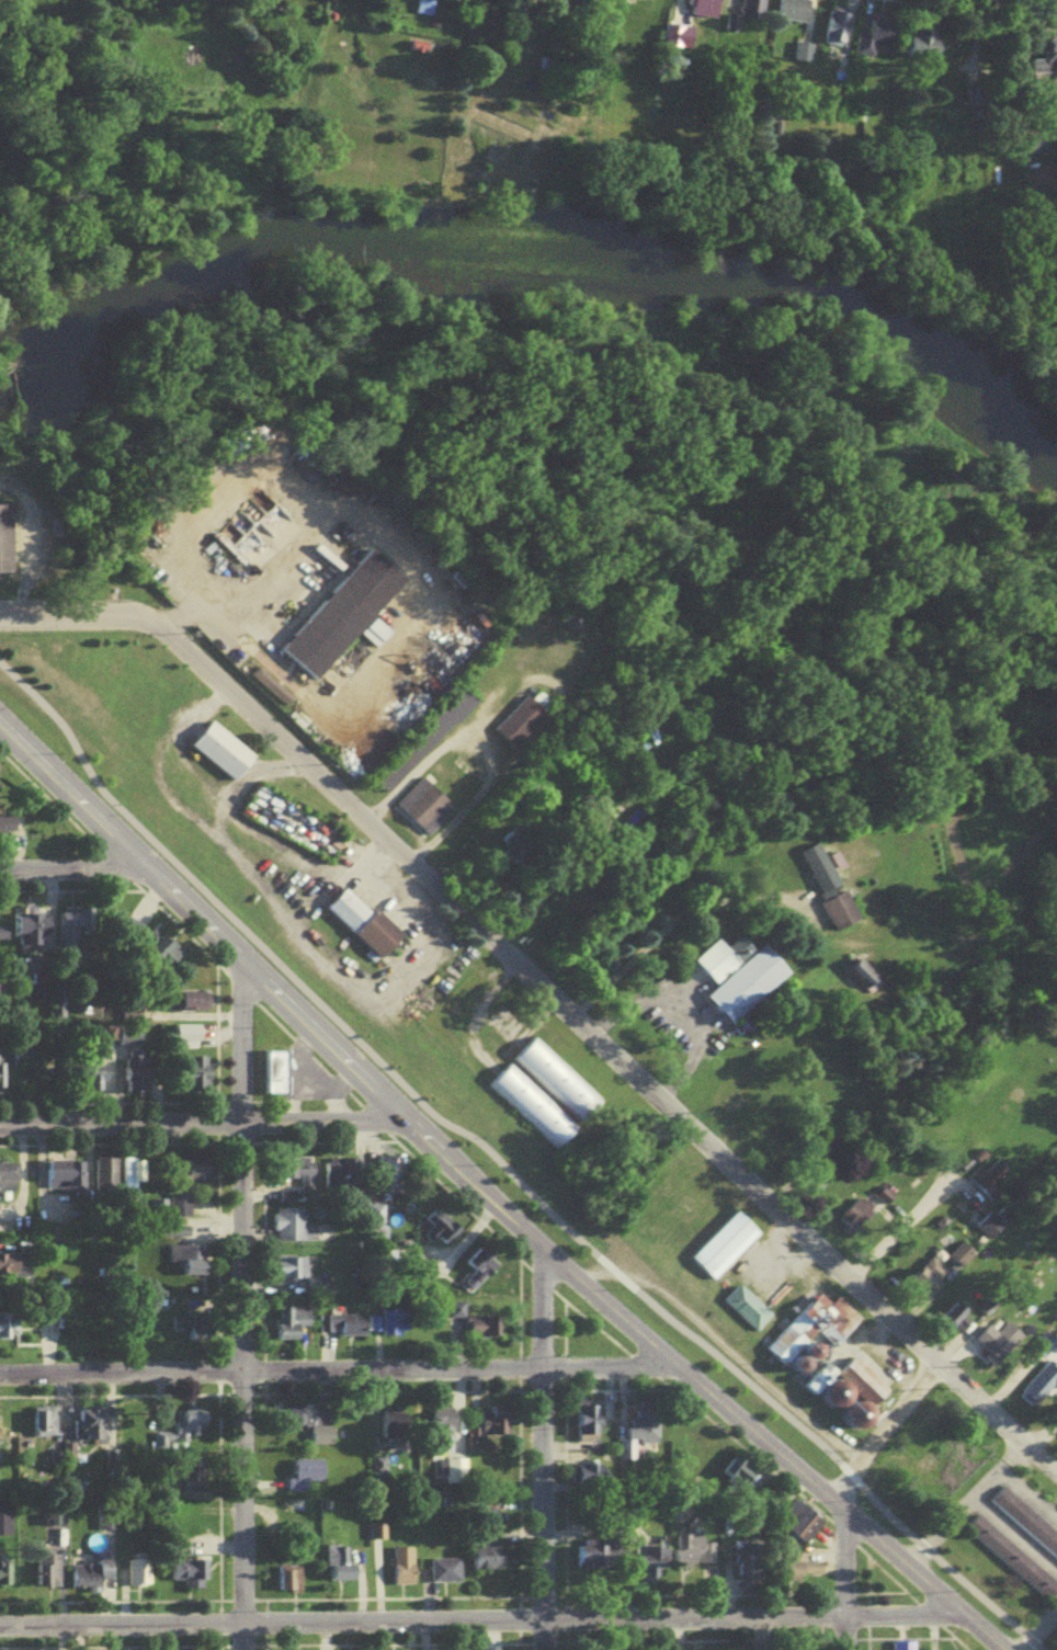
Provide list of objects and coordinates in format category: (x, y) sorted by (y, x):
road: (1038, 2)
building: (621, 3)
building: (427, 10)
building: (706, 11)
building: (754, 13)
building: (795, 13)
building: (840, 33)
building: (878, 41)
building: (681, 42)
building: (924, 45)
building: (968, 71)
building: (1038, 148)
river: (524, 255)
building: (3, 537)
road: (21, 548)
road: (275, 559)
road: (406, 567)
road: (11, 572)
building: (337, 611)
road: (181, 614)
building: (370, 629)
building: (265, 683)
building: (515, 714)
building: (419, 735)
building: (427, 746)
building: (215, 747)
road: (420, 755)
road: (271, 766)
road: (232, 785)
building: (523, 792)
road: (470, 794)
road: (47, 799)
building: (418, 801)
building: (8, 829)
building: (505, 842)
building: (521, 860)
road: (111, 863)
road: (69, 867)
road: (334, 869)
road: (497, 872)
building: (821, 880)
road: (312, 891)
road: (69, 892)
road: (284, 909)
building: (357, 921)
road: (660, 924)
road: (177, 928)
building: (5, 933)
building: (76, 933)
building: (35, 936)
building: (169, 958)
building: (735, 971)
building: (856, 972)
road: (531, 980)
building: (3, 989)
road: (238, 989)
road: (692, 1005)
road: (470, 1014)
road: (497, 1020)
building: (187, 1038)
building: (130, 1044)
road: (306, 1056)
building: (5, 1061)
building: (552, 1077)
building: (277, 1078)
building: (138, 1079)
building: (201, 1080)
building: (98, 1082)
building: (730, 1092)
building: (738, 1102)
building: (528, 1103)
road: (202, 1125)
road: (504, 1171)
building: (137, 1175)
building: (197, 1176)
building: (343, 1177)
building: (106, 1179)
building: (66, 1180)
building: (304, 1180)
building: (389, 1181)
building: (10, 1182)
road: (469, 1185)
building: (995, 1185)
building: (181, 1211)
building: (860, 1221)
road: (909, 1224)
building: (978, 1225)
building: (294, 1232)
building: (179, 1236)
building: (717, 1240)
building: (186, 1259)
building: (964, 1260)
building: (387, 1263)
building: (16, 1270)
building: (293, 1274)
building: (479, 1275)
building: (925, 1287)
building: (740, 1302)
road: (240, 1307)
building: (823, 1312)
building: (293, 1328)
building: (397, 1328)
building: (479, 1328)
road: (854, 1330)
building: (344, 1331)
building: (10, 1332)
building: (787, 1332)
road: (855, 1336)
building: (201, 1341)
building: (808, 1341)
silo: (808, 1341)
road: (718, 1342)
building: (993, 1350)
building: (819, 1351)
silo: (819, 1351)
building: (796, 1355)
silo: (796, 1355)
road: (886, 1358)
building: (806, 1366)
silo: (806, 1366)
road: (340, 1373)
building: (818, 1373)
building: (861, 1375)
building: (832, 1389)
silo: (832, 1389)
building: (1041, 1396)
building: (855, 1411)
silo: (855, 1411)
building: (590, 1424)
building: (498, 1425)
building: (44, 1427)
building: (93, 1430)
road: (875, 1430)
building: (646, 1431)
road: (1039, 1431)
building: (184, 1435)
building: (322, 1441)
road: (543, 1452)
road: (1039, 1457)
road: (993, 1470)
building: (380, 1472)
building: (309, 1480)
building: (594, 1480)
road: (1026, 1495)
building: (1023, 1520)
building: (106, 1523)
building: (7, 1524)
building: (804, 1525)
road: (933, 1528)
road: (1011, 1535)
building: (694, 1555)
building: (1008, 1555)
building: (600, 1560)
road: (842, 1560)
building: (490, 1562)
building: (653, 1563)
building: (752, 1566)
building: (340, 1571)
building: (405, 1571)
building: (4, 1572)
building: (49, 1574)
building: (805, 1574)
building: (447, 1575)
building: (139, 1577)
building: (191, 1577)
building: (88, 1580)
building: (291, 1582)
road: (928, 1617)
road: (423, 1623)
road: (1034, 1624)
road: (846, 1634)
building: (902, 1649)

